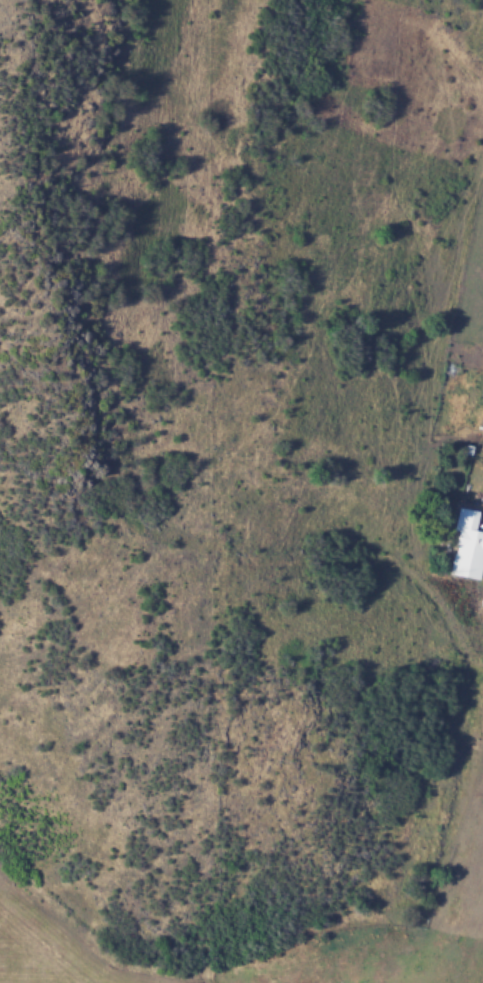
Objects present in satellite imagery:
building: (467, 544)

